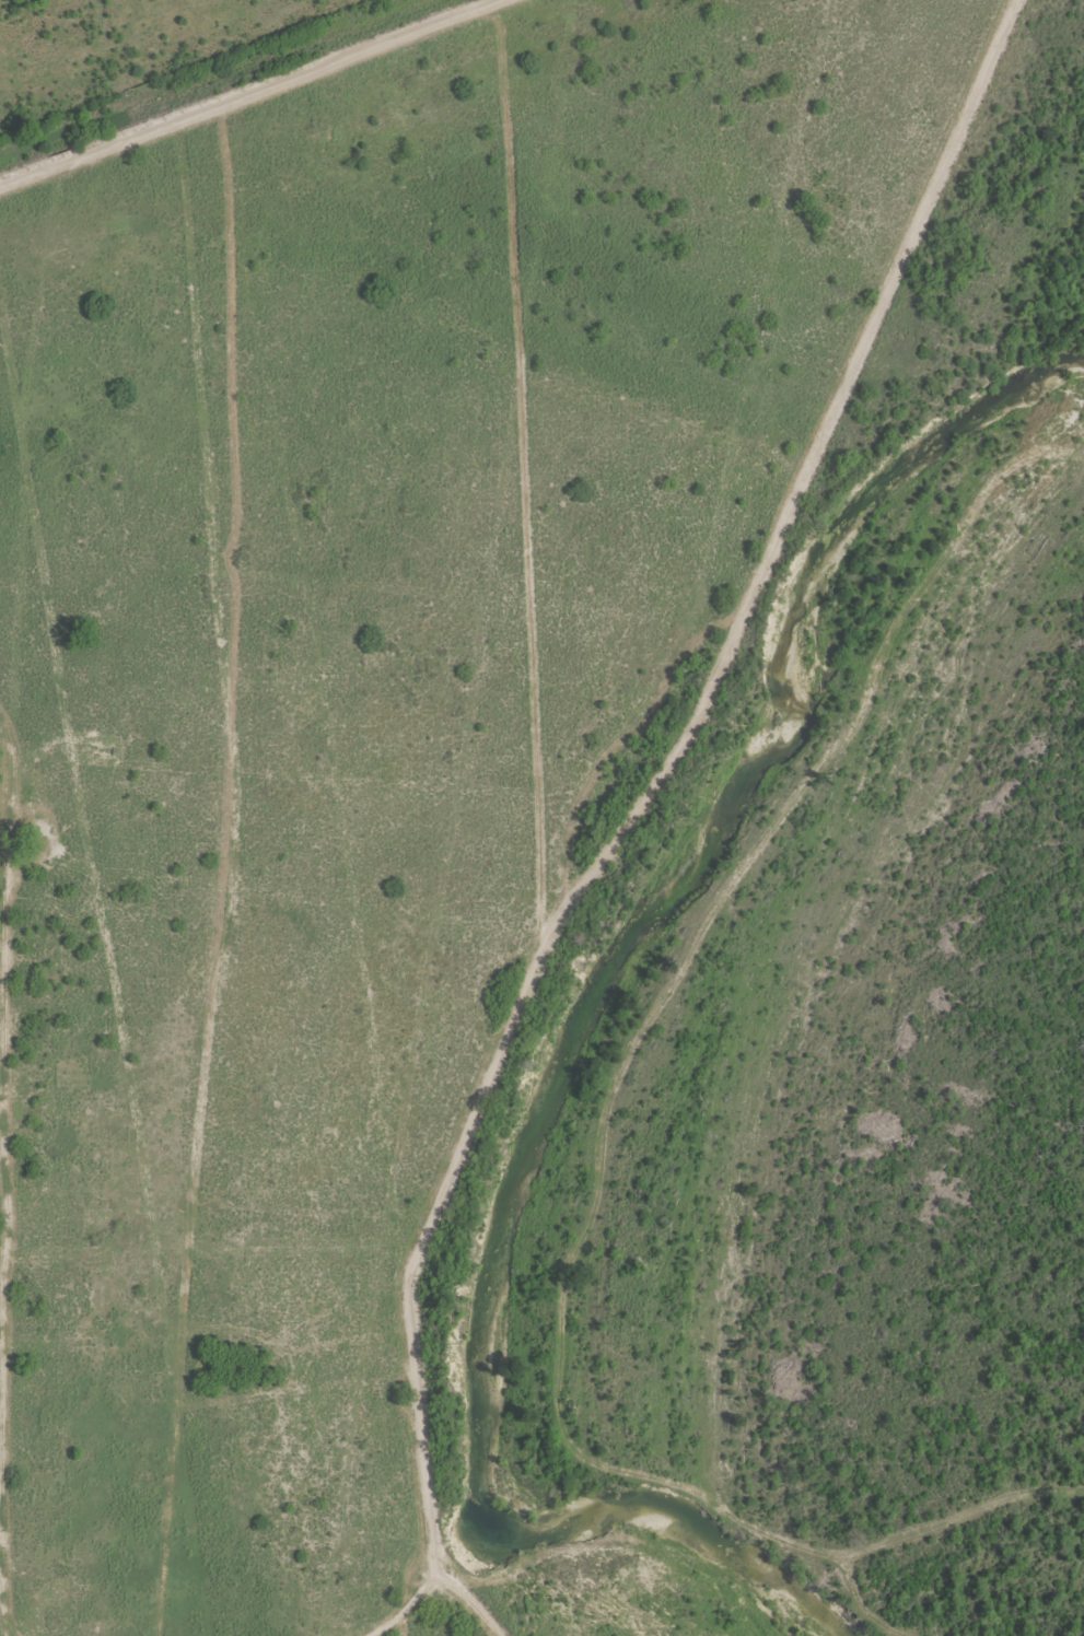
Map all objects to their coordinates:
road: (230, 84)
road: (3, 842)
river: (585, 1030)

